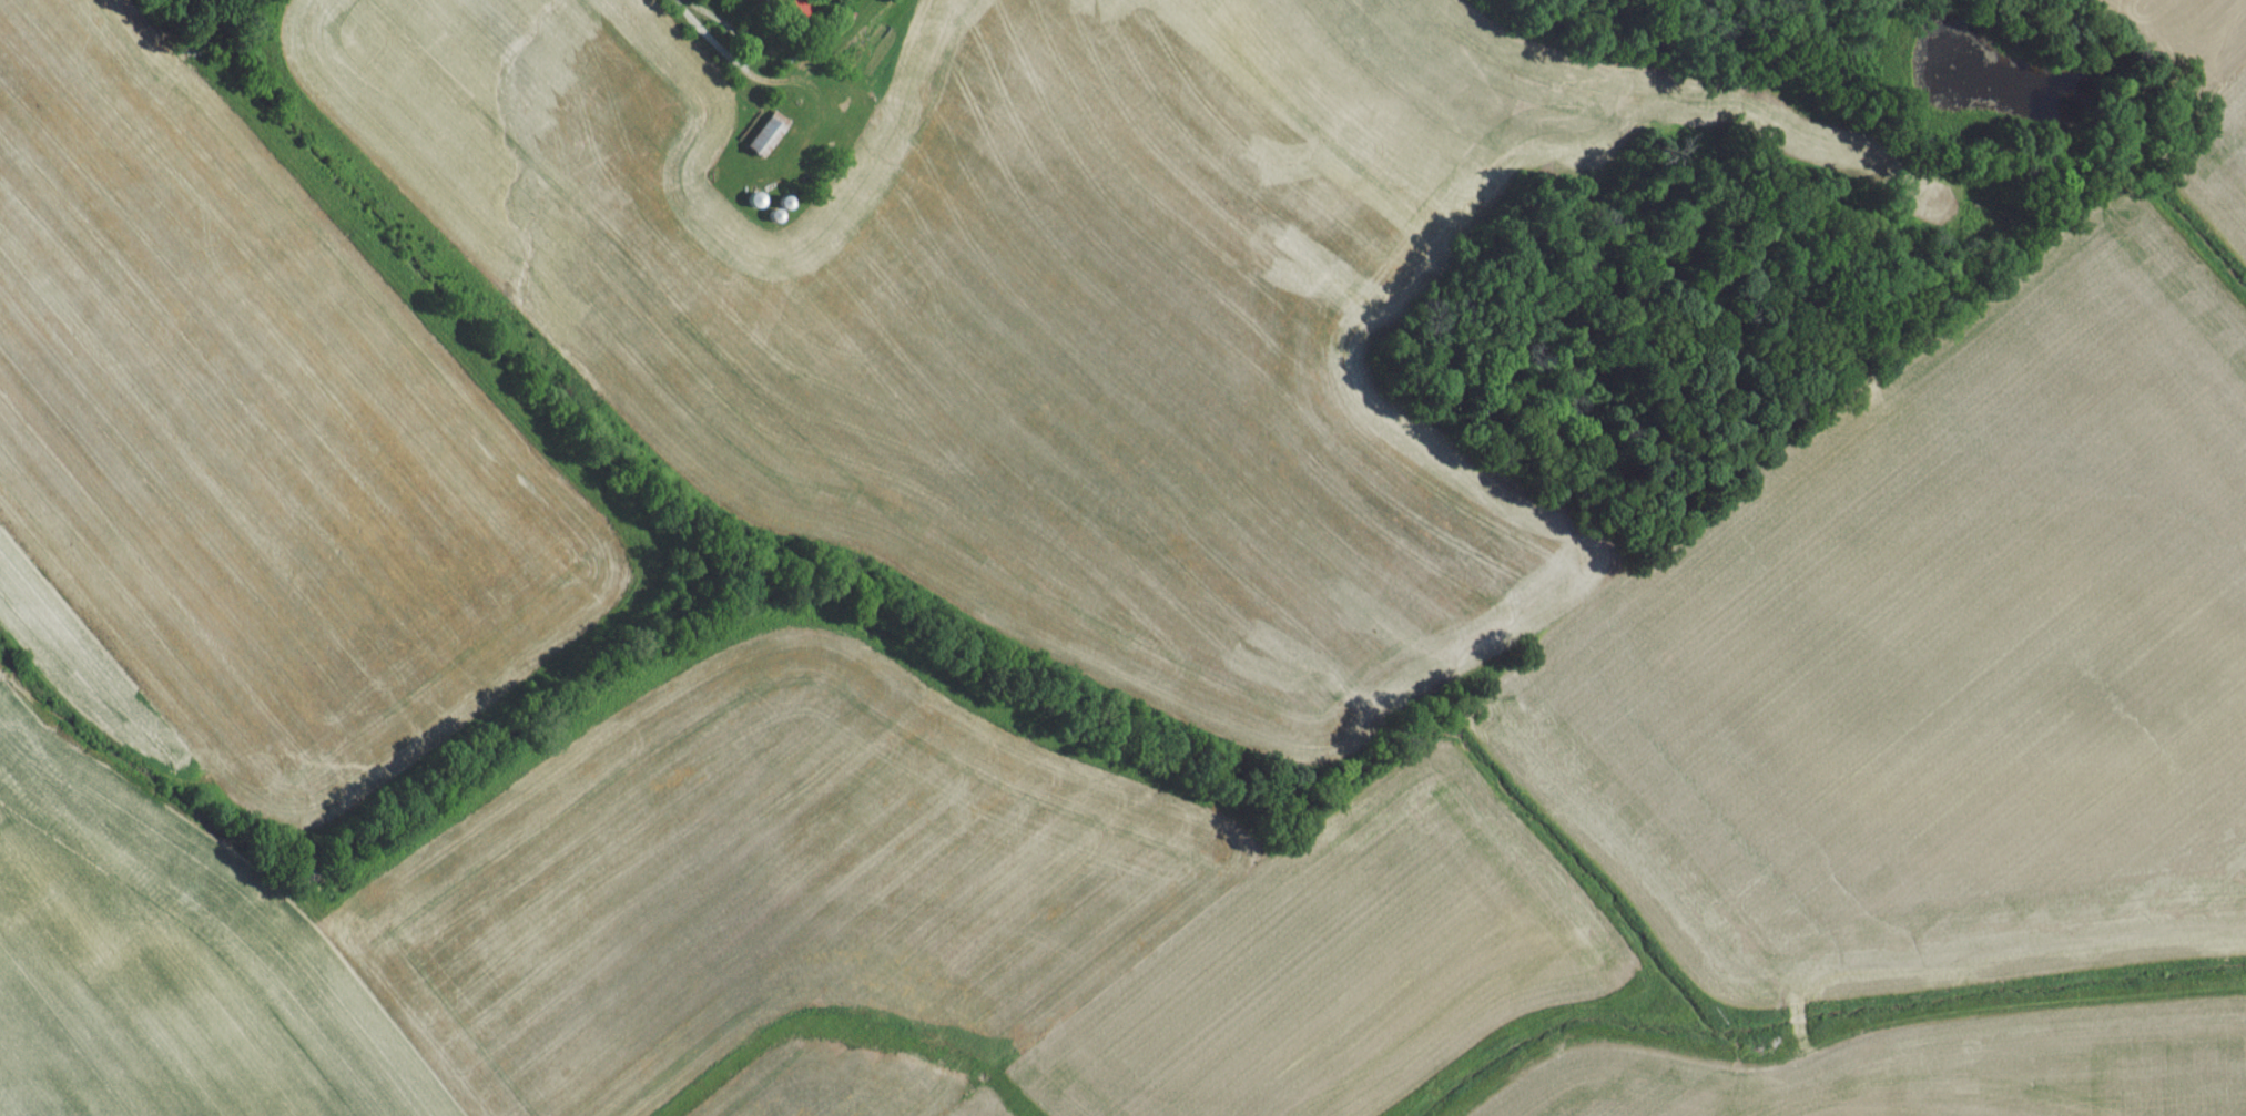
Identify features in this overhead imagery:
building: (783, 10)
building: (763, 141)

